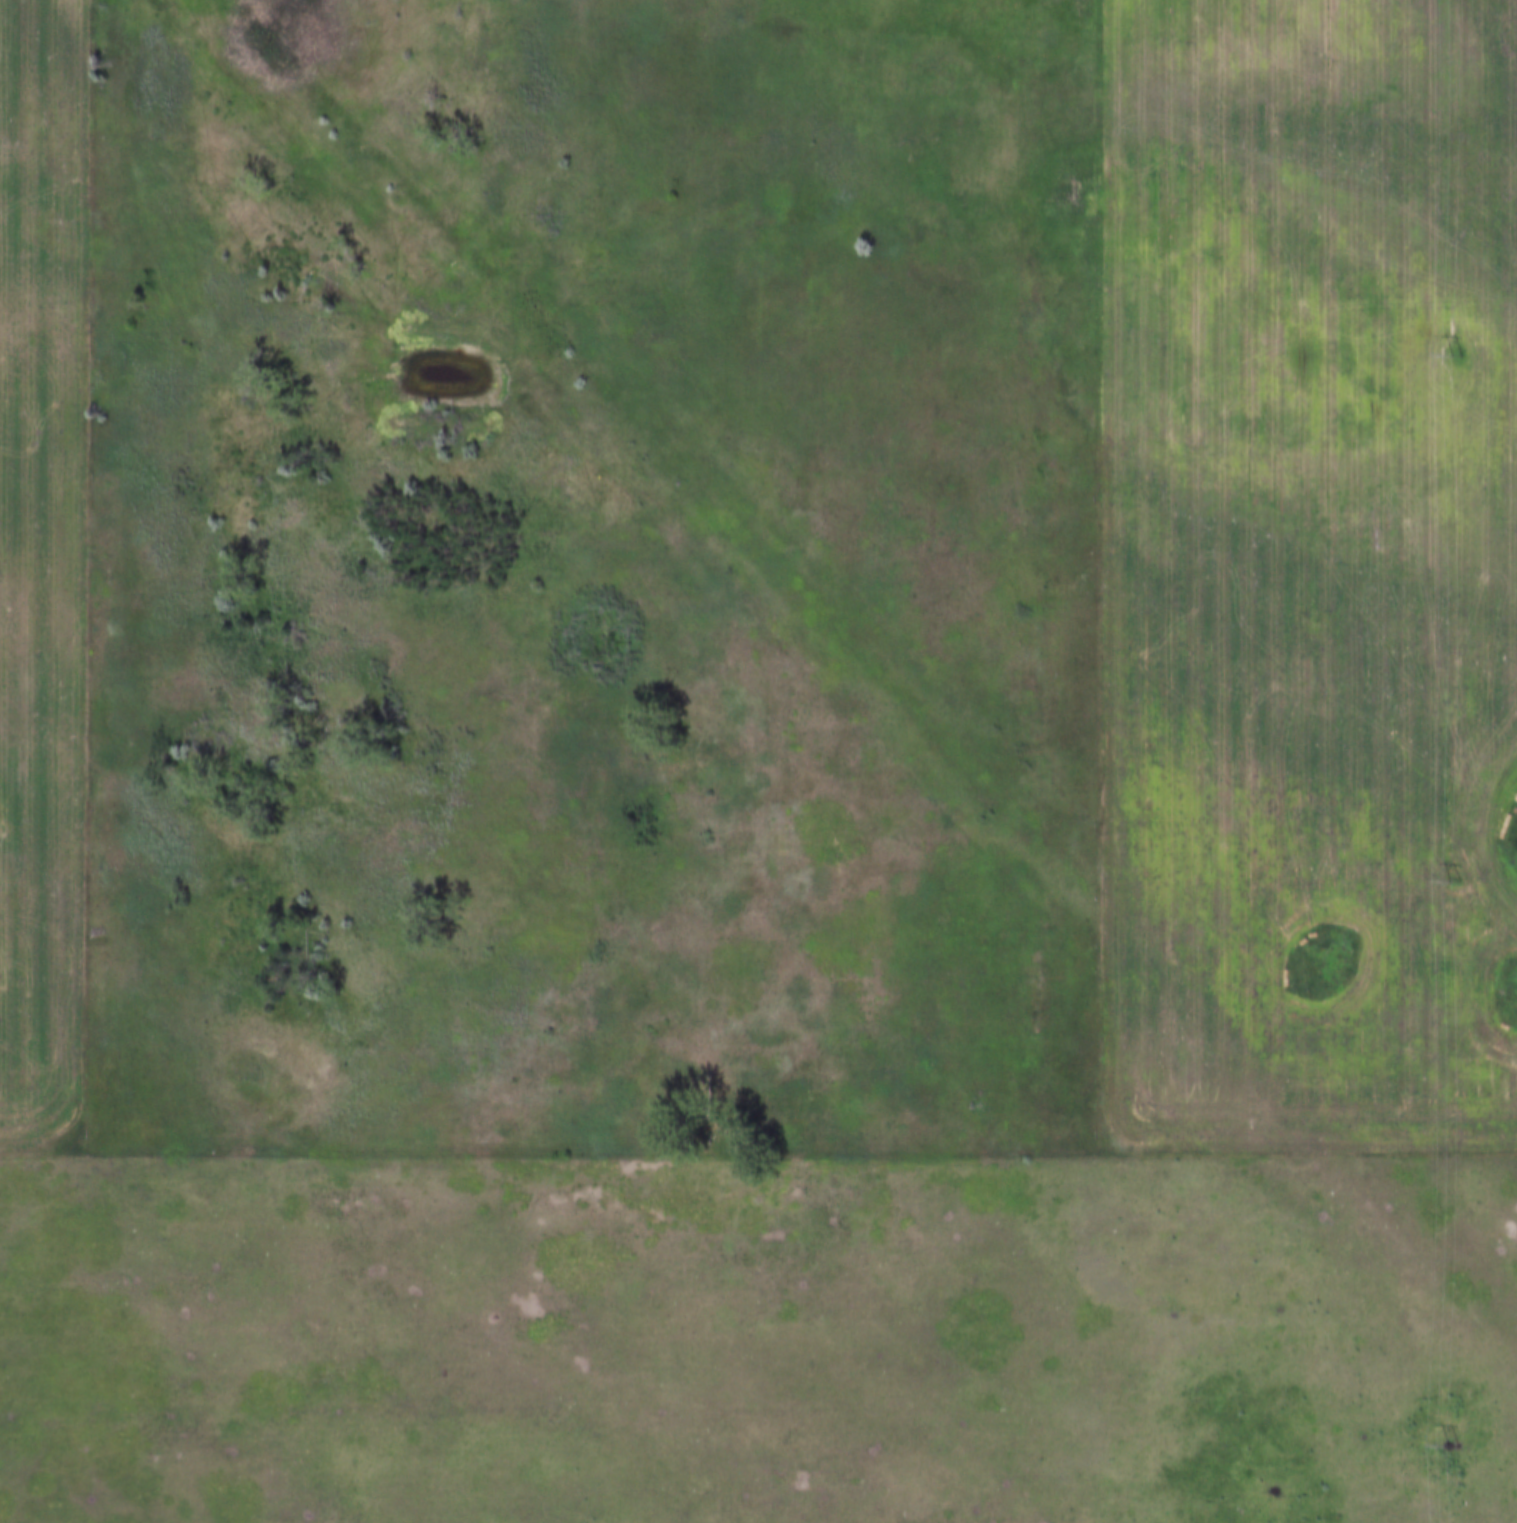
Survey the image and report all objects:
road: (1500, 830)

